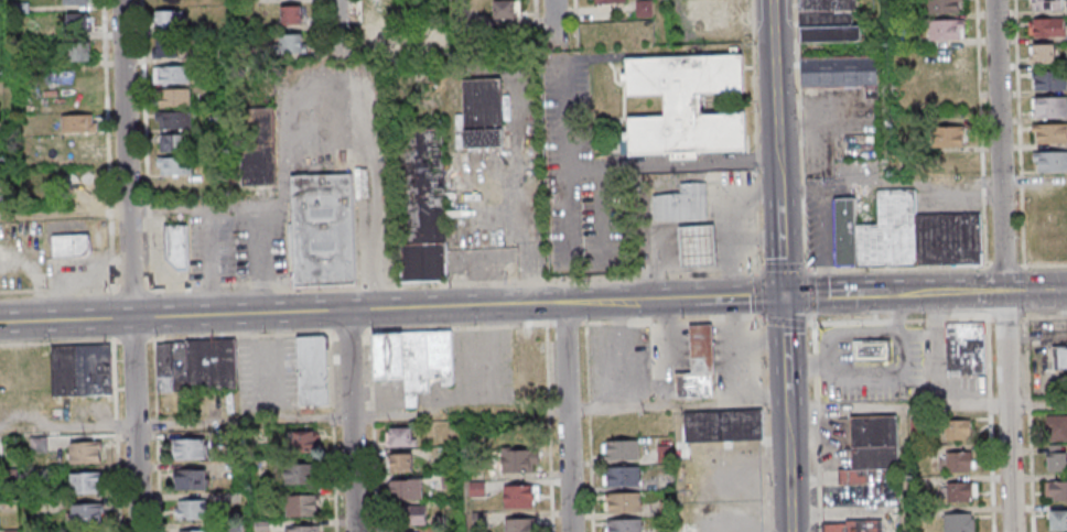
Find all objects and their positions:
building: (608, 1)
building: (75, 2)
building: (1046, 4)
building: (945, 7)
building: (644, 8)
building: (505, 9)
building: (385, 11)
building: (714, 13)
building: (291, 14)
road: (884, 19)
building: (169, 20)
road: (664, 20)
building: (828, 21)
road: (559, 22)
building: (78, 23)
road: (345, 28)
building: (1048, 28)
building: (946, 30)
building: (388, 40)
building: (291, 43)
building: (168, 48)
building: (78, 53)
building: (1042, 53)
building: (946, 56)
building: (837, 70)
building: (171, 74)
road: (774, 79)
building: (1049, 80)
building: (175, 96)
building: (686, 104)
building: (1049, 107)
building: (483, 112)
building: (173, 120)
building: (79, 122)
building: (1050, 133)
road: (756, 135)
building: (951, 137)
building: (174, 142)
building: (260, 148)
building: (1050, 161)
building: (948, 164)
road: (671, 165)
building: (175, 166)
road: (567, 167)
road: (921, 187)
building: (85, 192)
building: (685, 204)
building: (425, 208)
road: (134, 209)
building: (325, 229)
building: (904, 235)
building: (700, 245)
building: (71, 246)
building: (174, 247)
road: (134, 265)
road: (1006, 265)
road: (758, 292)
traffic signals: (782, 296)
road: (532, 303)
road: (904, 313)
road: (880, 333)
road: (941, 337)
road: (757, 345)
road: (783, 346)
building: (704, 347)
building: (966, 348)
building: (872, 349)
road: (733, 350)
road: (662, 354)
road: (627, 355)
building: (413, 359)
building: (1059, 360)
building: (196, 365)
building: (82, 369)
building: (313, 370)
road: (866, 382)
building: (698, 383)
road: (676, 405)
road: (925, 406)
road: (568, 417)
road: (352, 421)
road: (764, 422)
road: (175, 424)
building: (724, 425)
building: (1056, 427)
building: (957, 431)
building: (401, 437)
building: (304, 441)
building: (39, 444)
building: (0, 446)
building: (871, 447)
building: (192, 448)
building: (623, 449)
building: (85, 452)
building: (1056, 458)
building: (518, 460)
building: (957, 463)
building: (401, 464)
road: (907, 469)
building: (303, 474)
building: (622, 476)
building: (192, 478)
building: (87, 481)
building: (448, 481)
building: (407, 489)
building: (477, 489)
building: (960, 491)
building: (1056, 491)
building: (520, 496)
building: (623, 502)
building: (11, 503)
building: (302, 504)
building: (192, 509)
building: (87, 512)
building: (412, 515)
building: (1058, 521)
building: (959, 522)
building: (520, 524)
building: (624, 525)
building: (852, 525)
building: (303, 529)
building: (192, 531)

